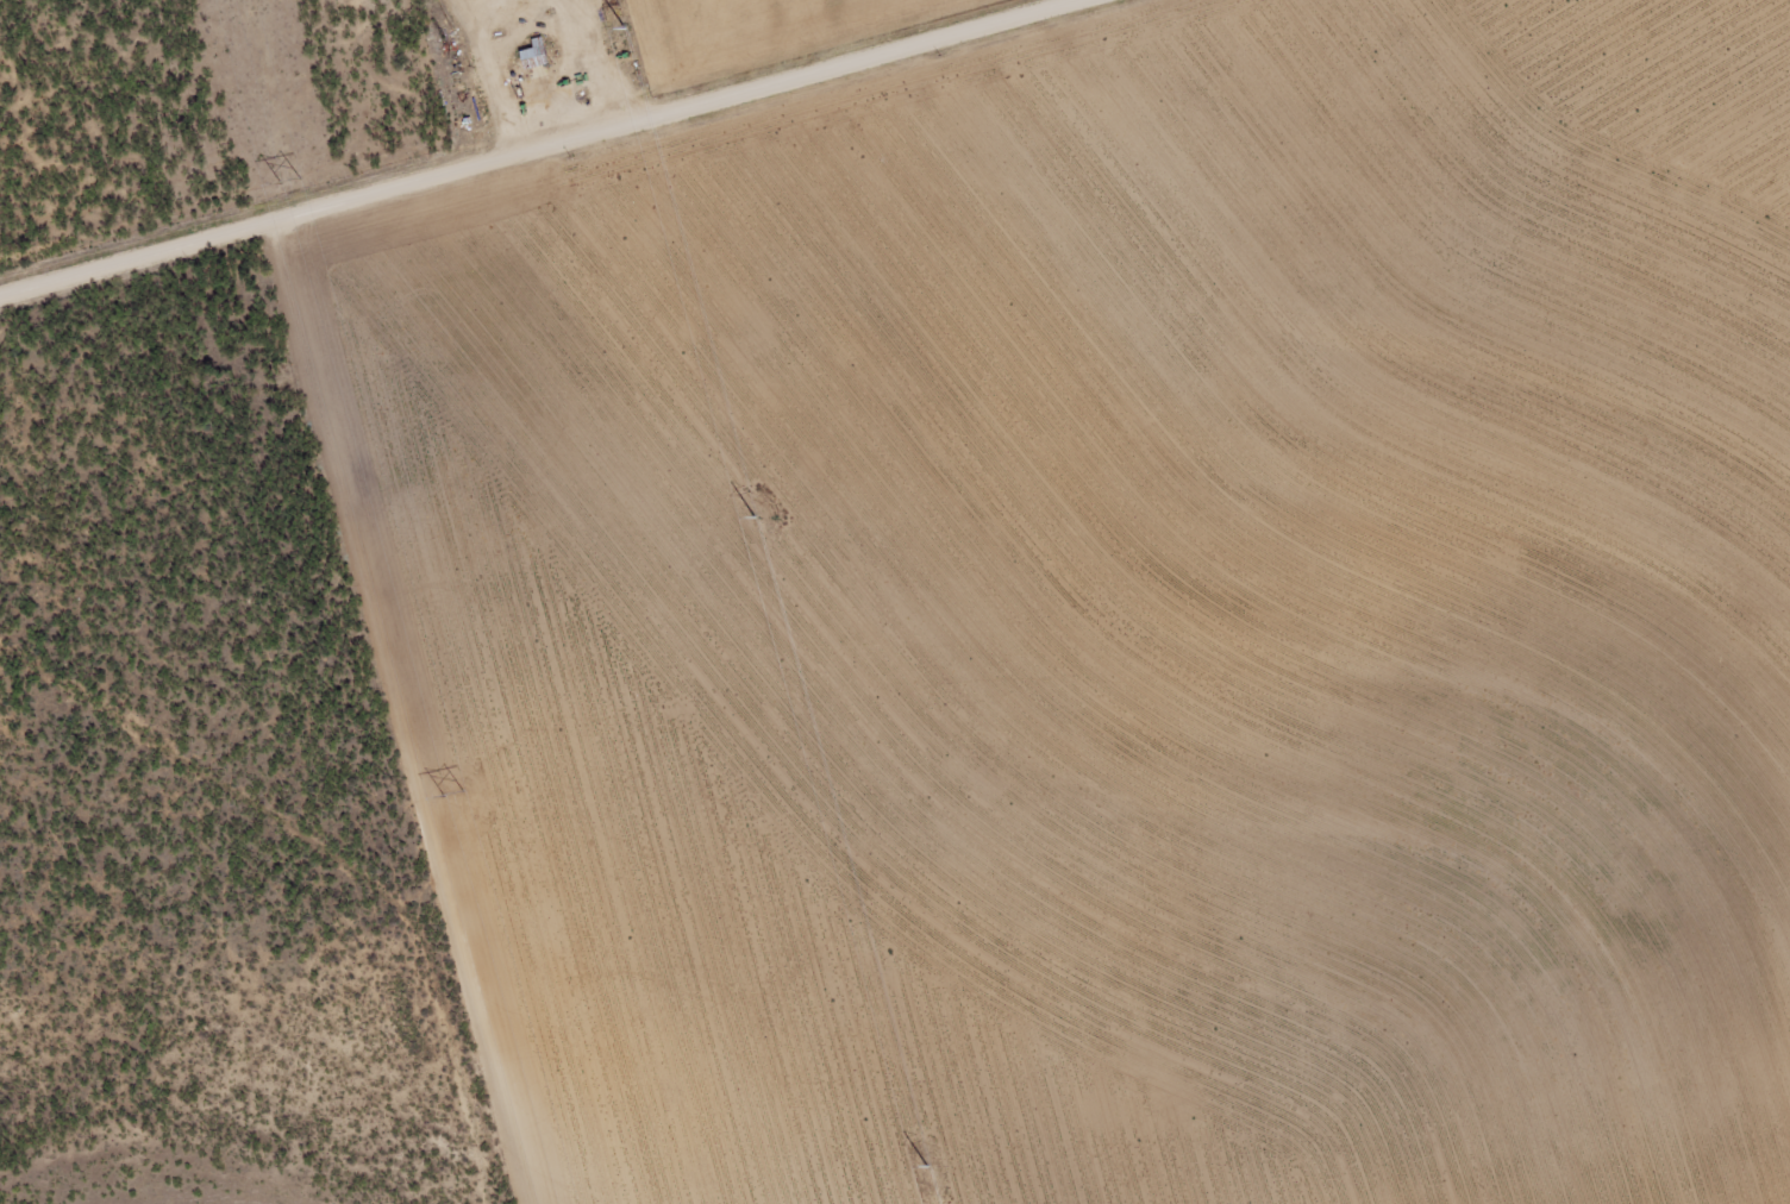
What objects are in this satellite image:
power tower: (625, 24)
building: (534, 52)
road: (528, 145)
power tower: (287, 176)
power tower: (755, 515)
power tower: (455, 790)
power tower: (926, 1165)

